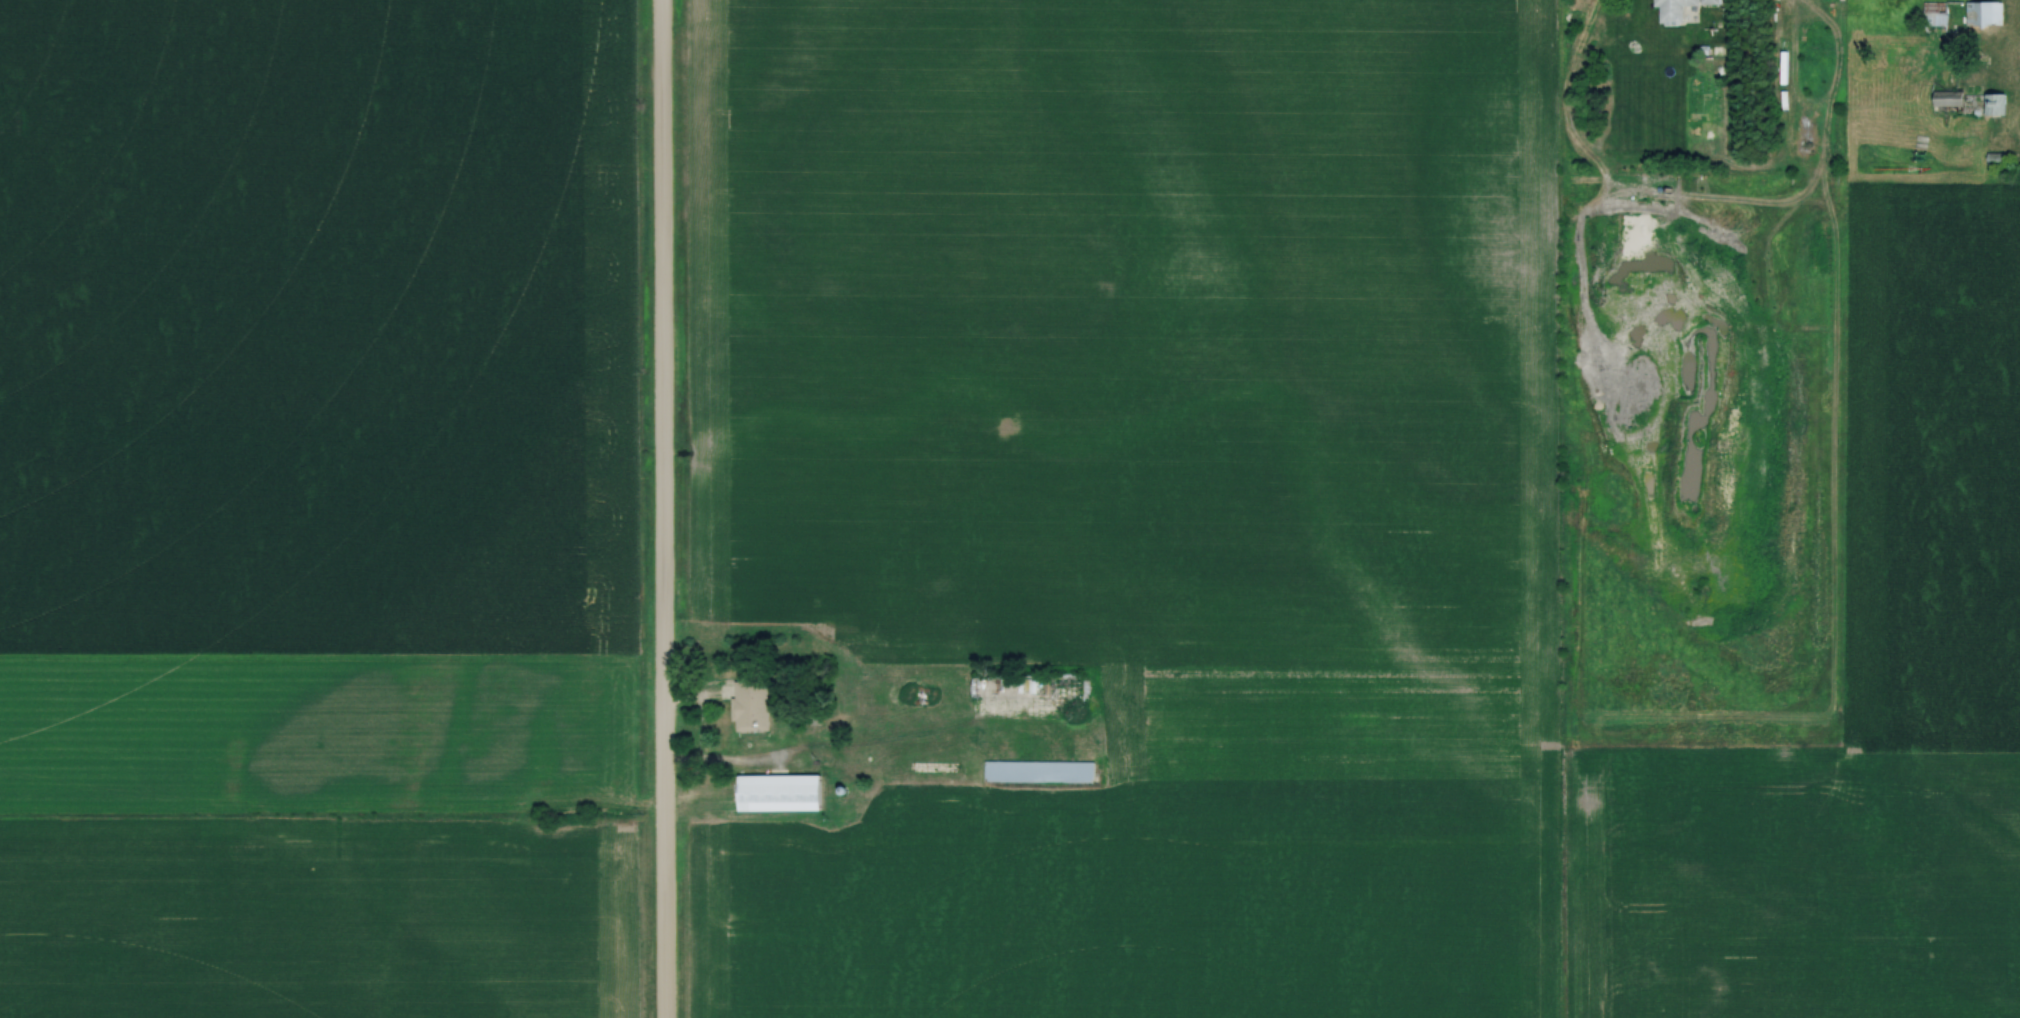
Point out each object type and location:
building: (1675, 9)
building: (1934, 13)
building: (1982, 13)
building: (1946, 98)
building: (1994, 103)
road: (662, 508)
building: (1025, 688)
building: (749, 706)
road: (841, 749)
building: (1037, 771)
building: (778, 793)

